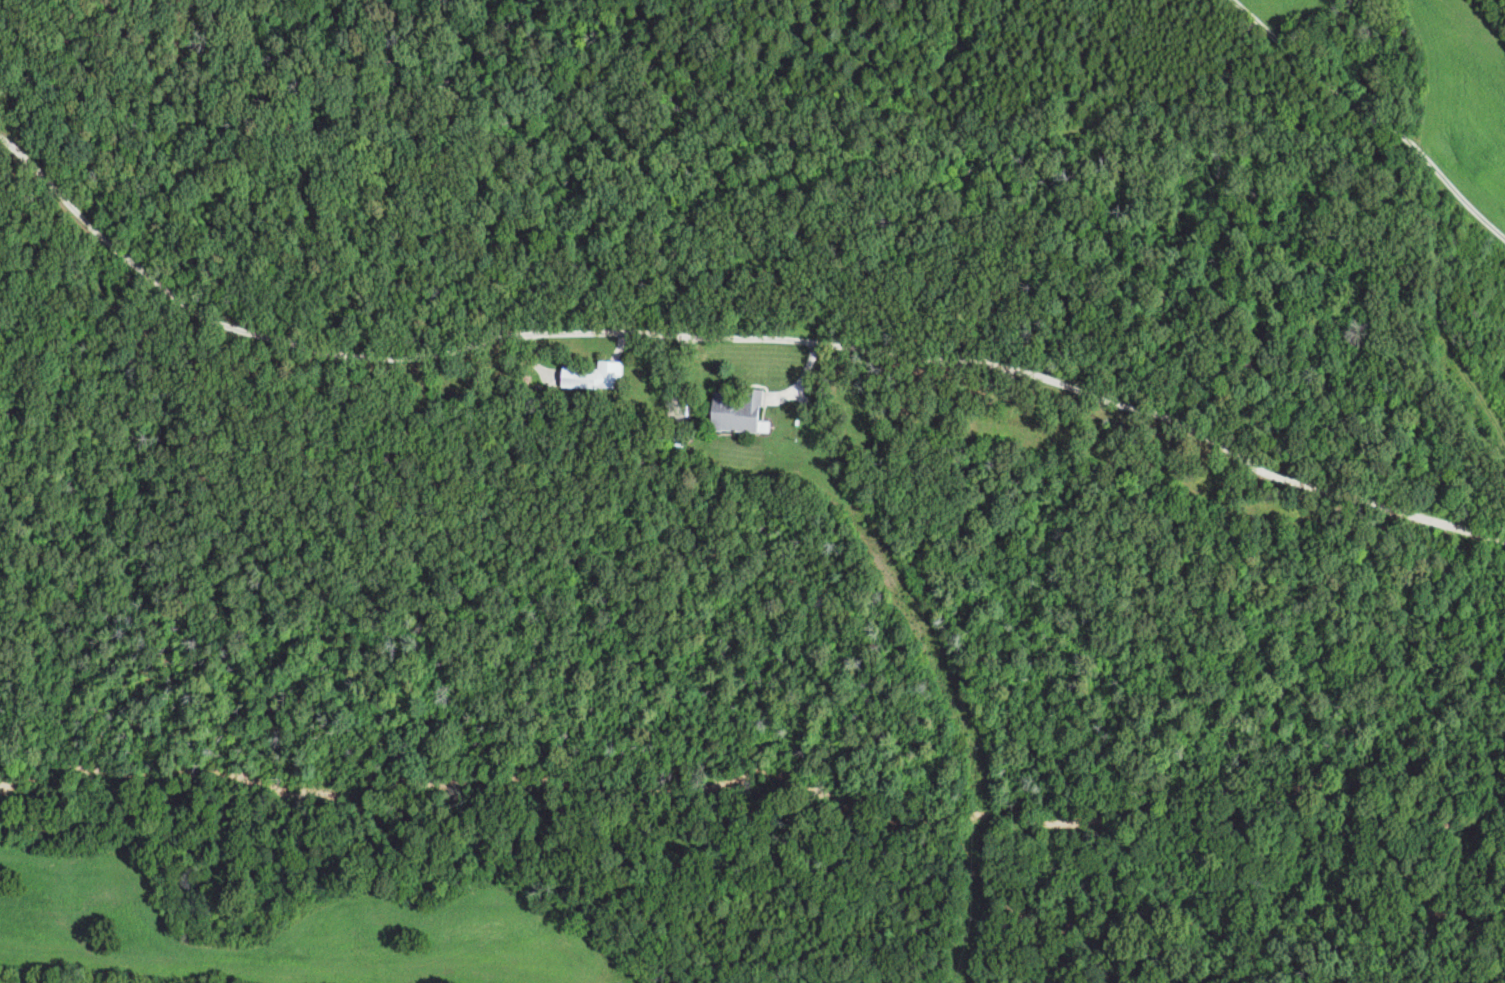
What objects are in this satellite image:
road: (1370, 112)
road: (733, 338)
building: (595, 377)
building: (741, 411)

